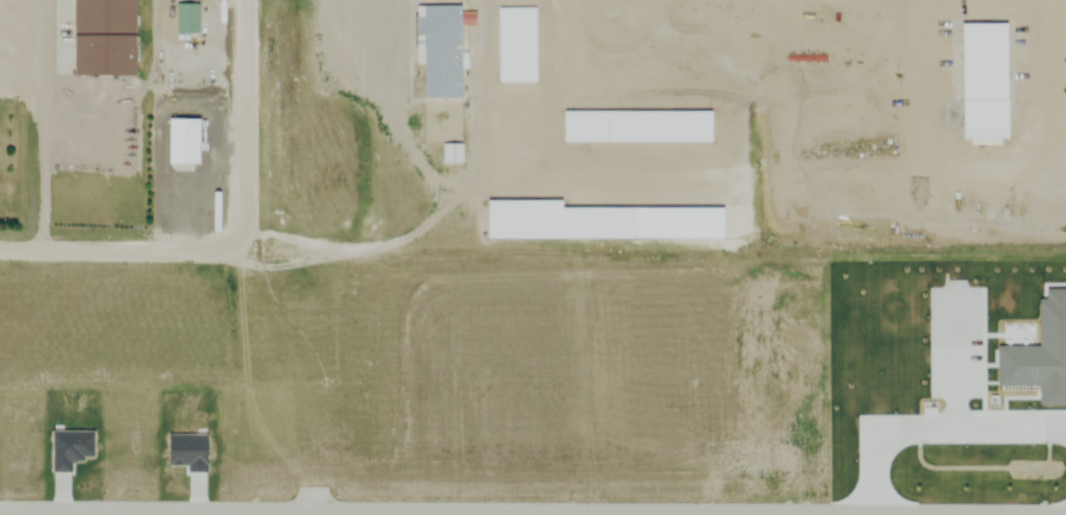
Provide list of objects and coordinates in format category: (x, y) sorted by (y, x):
building: (191, 15)
building: (101, 38)
building: (519, 43)
building: (9, 44)
building: (437, 50)
building: (982, 81)
road: (243, 126)
building: (639, 128)
building: (555, 221)
road: (121, 250)
road: (532, 511)

